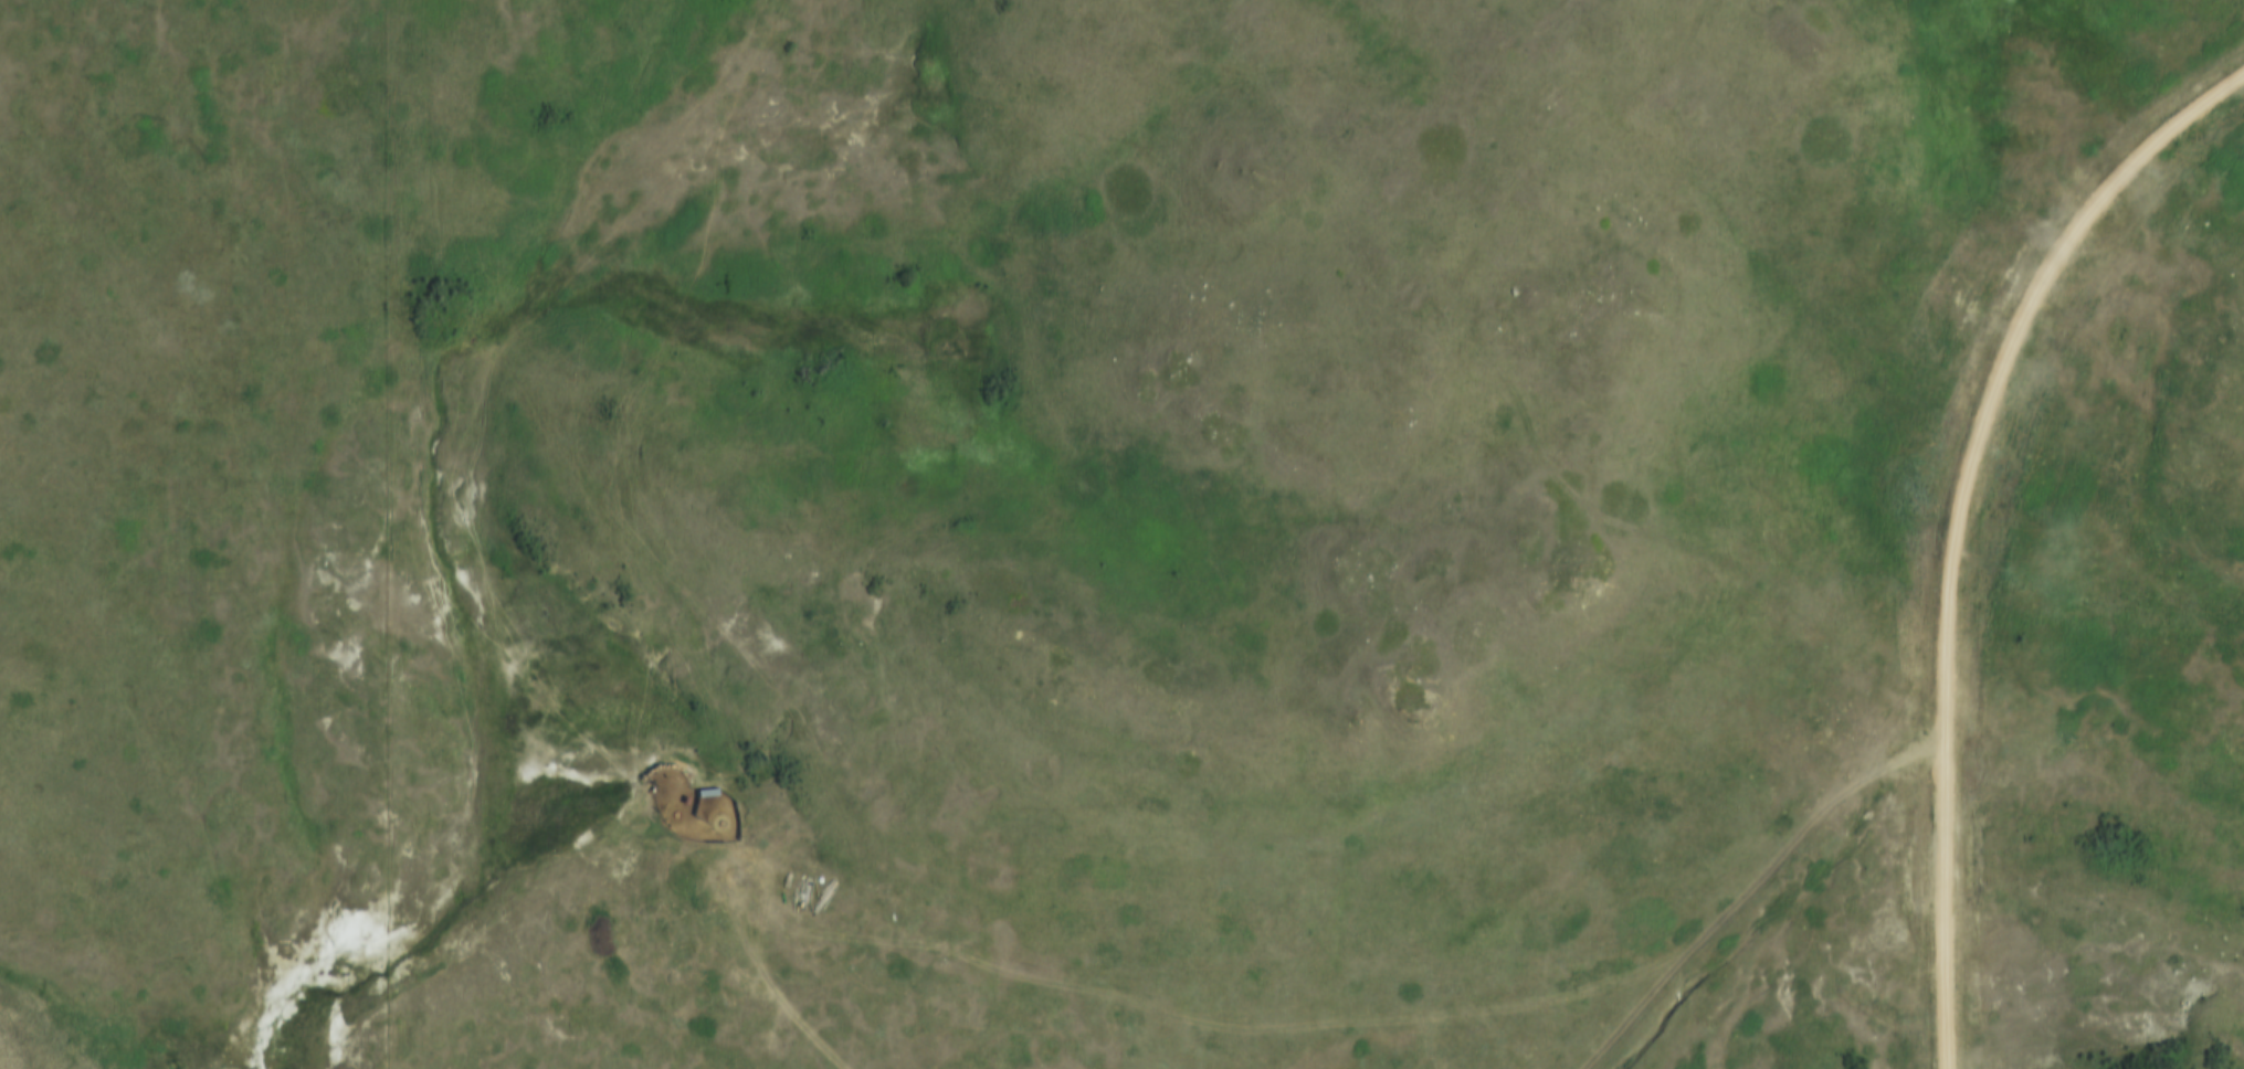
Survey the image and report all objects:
road: (1950, 515)

